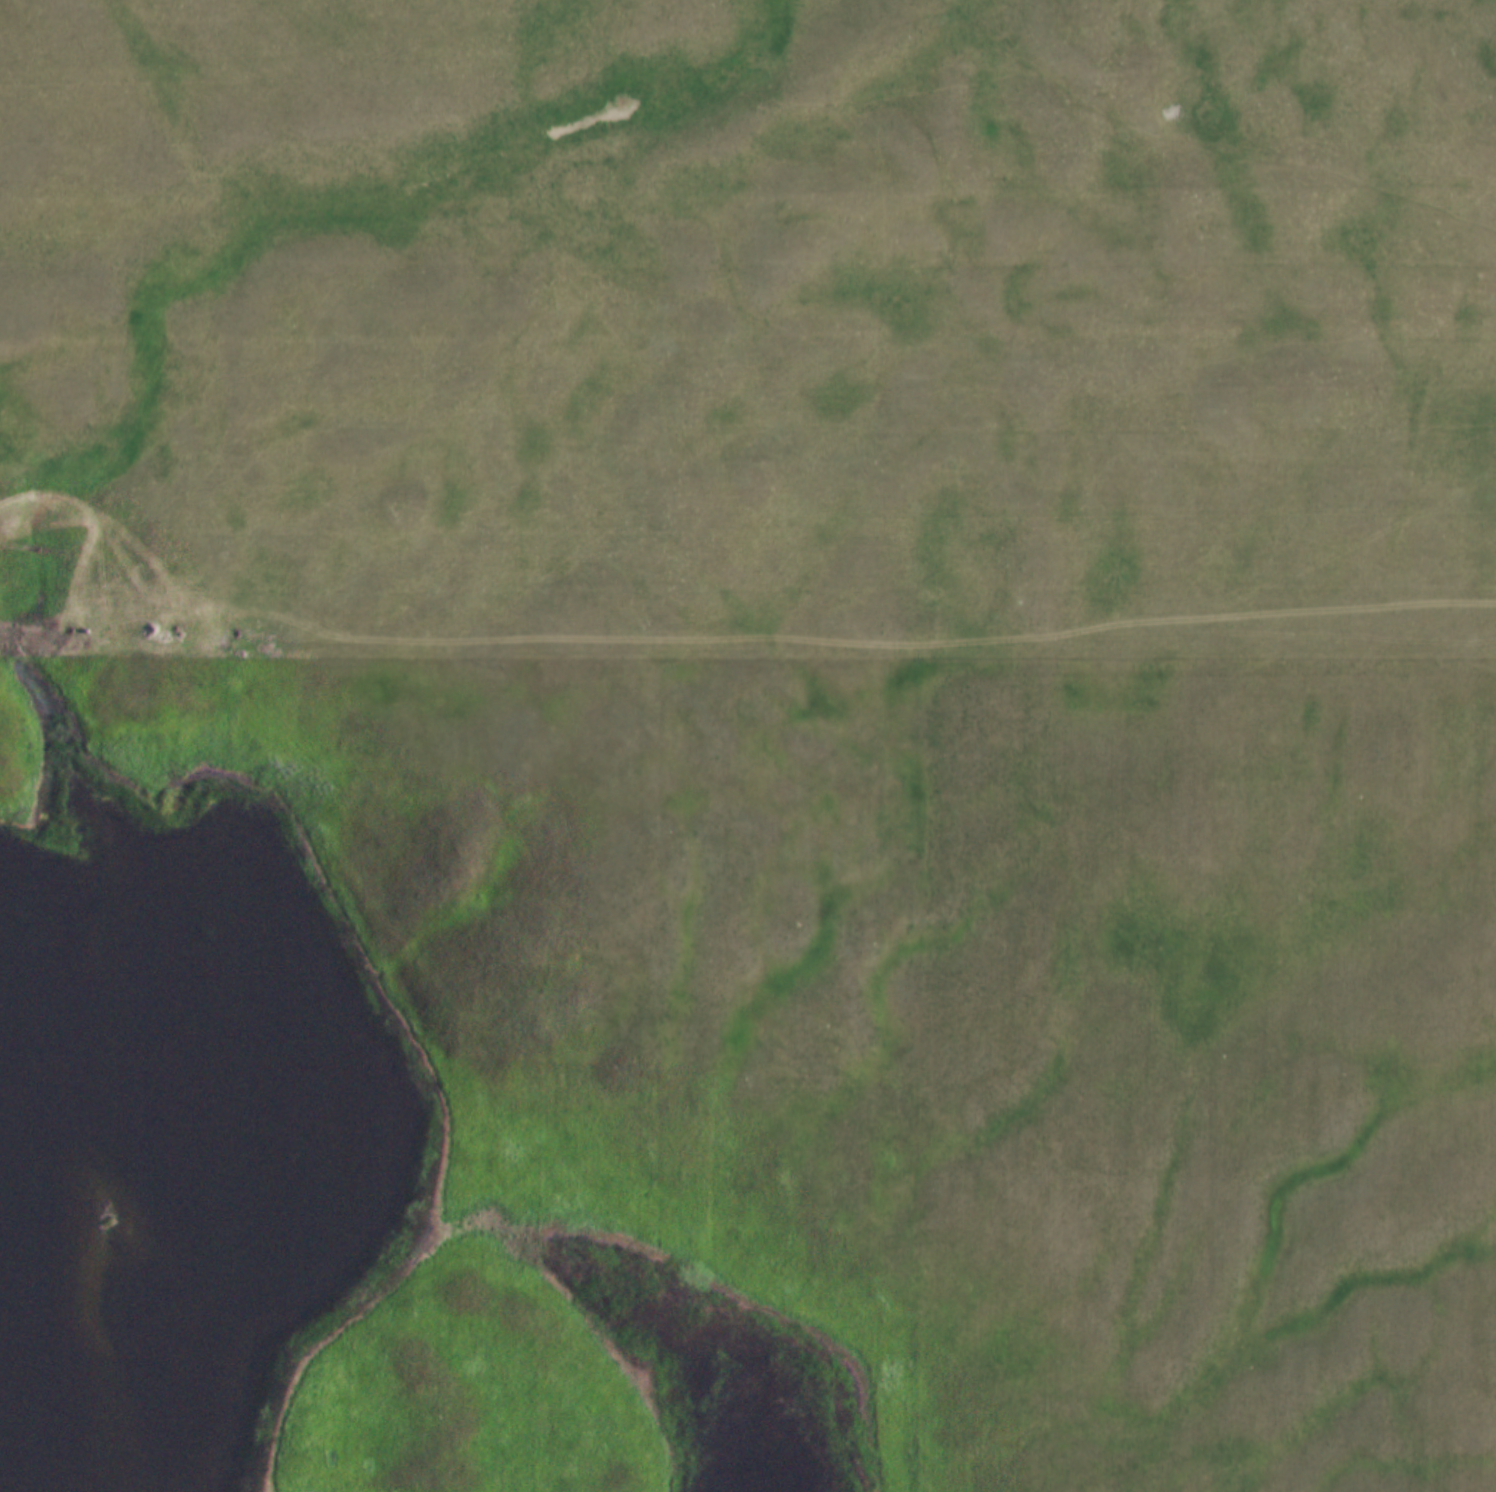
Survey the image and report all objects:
road: (861, 668)

